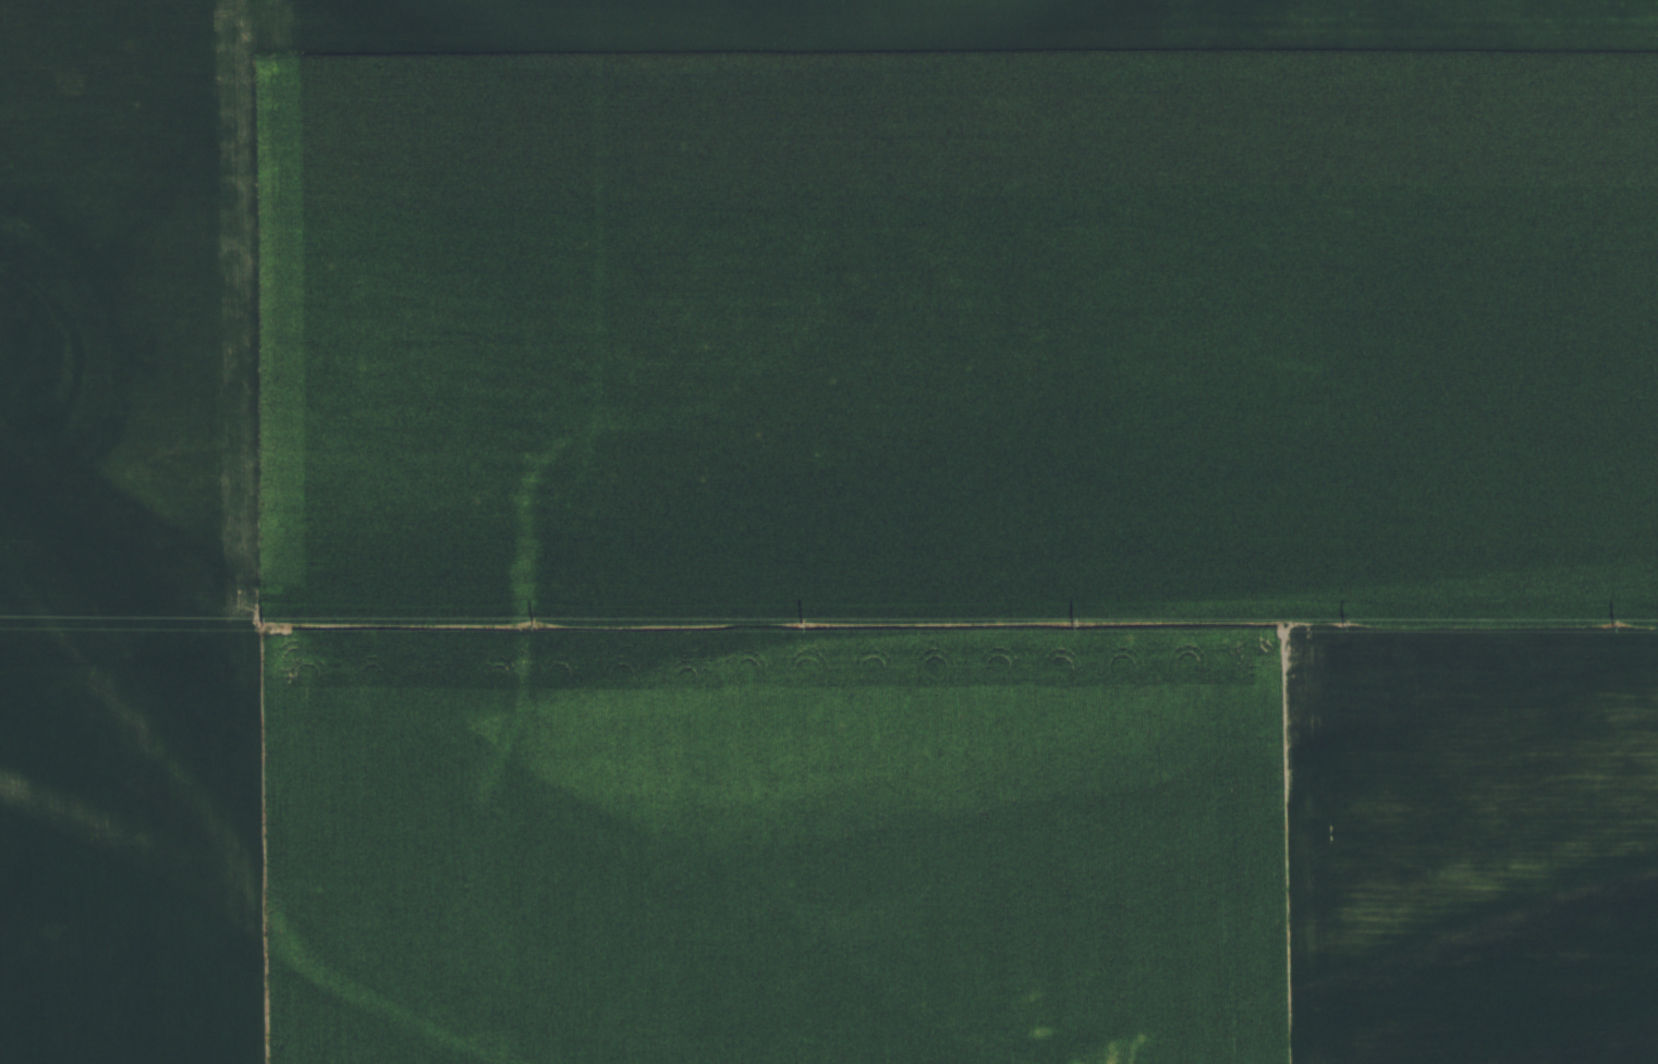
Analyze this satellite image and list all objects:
power tower: (1078, 620)
power tower: (804, 621)
power tower: (1348, 621)
power tower: (263, 623)
power tower: (533, 623)
power tower: (1617, 623)

